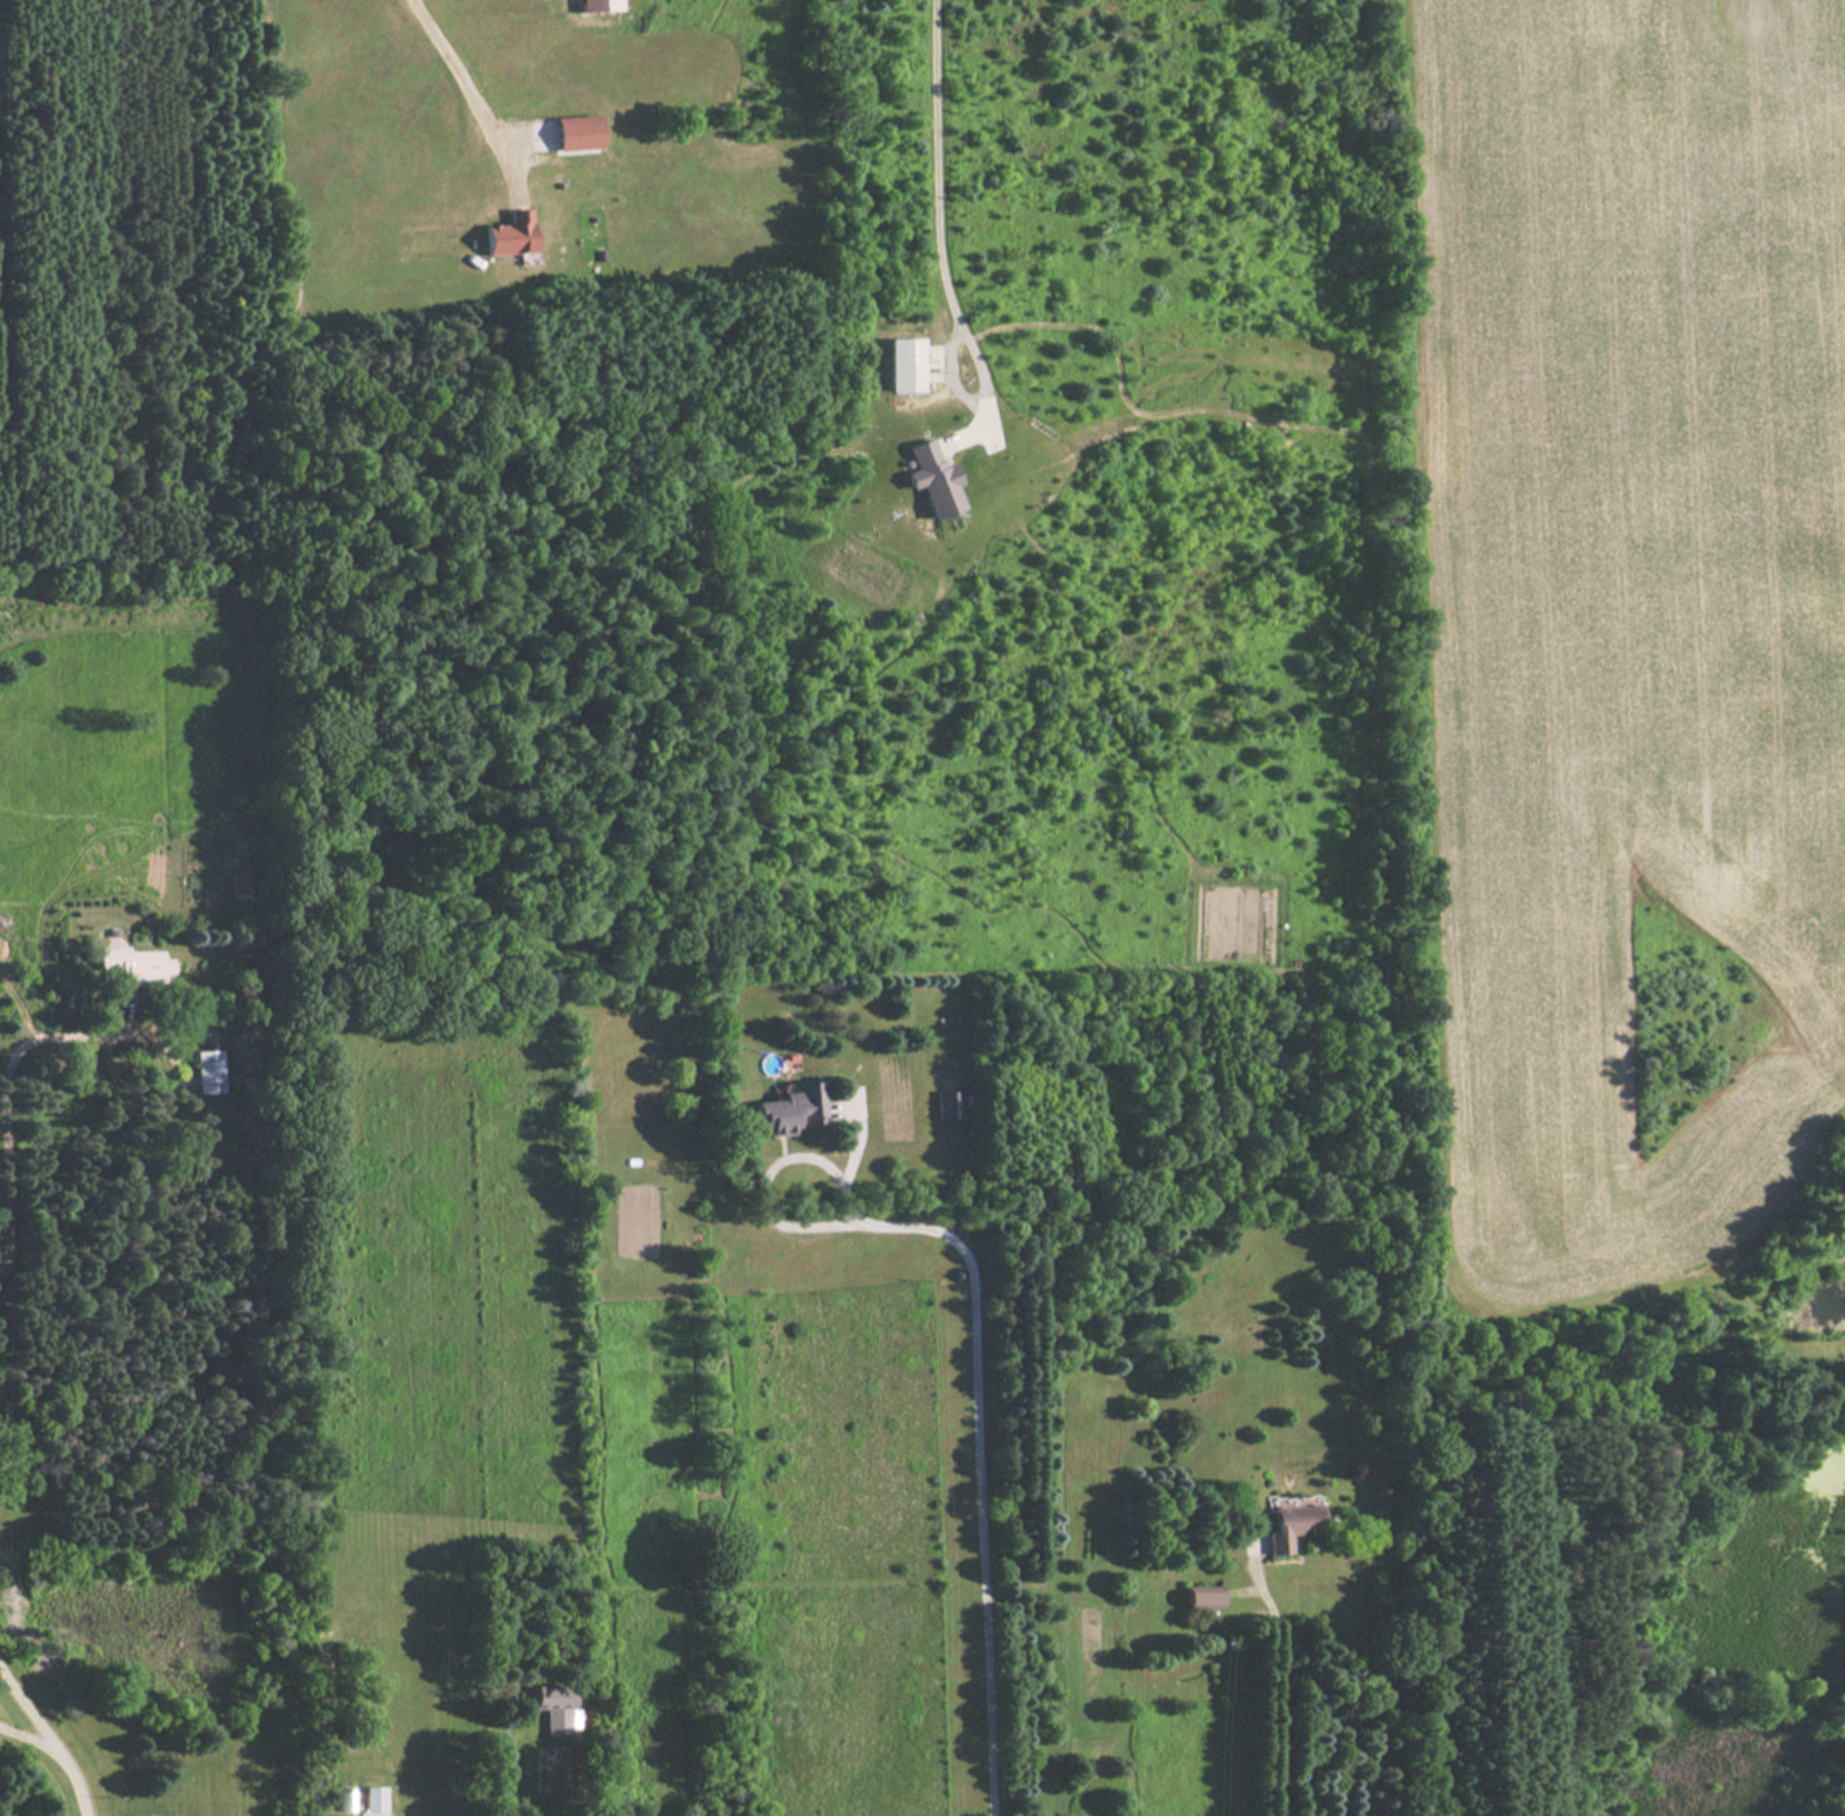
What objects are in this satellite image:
building: (577, 133)
building: (510, 236)
building: (239, 884)
building: (134, 966)
building: (250, 1031)
building: (208, 1072)
building: (949, 1104)
building: (793, 1108)
road: (775, 1170)
road: (984, 1470)
building: (1291, 1525)
building: (1202, 1600)
building: (556, 1720)
road: (25, 1726)
road: (49, 1735)
building: (374, 1798)

